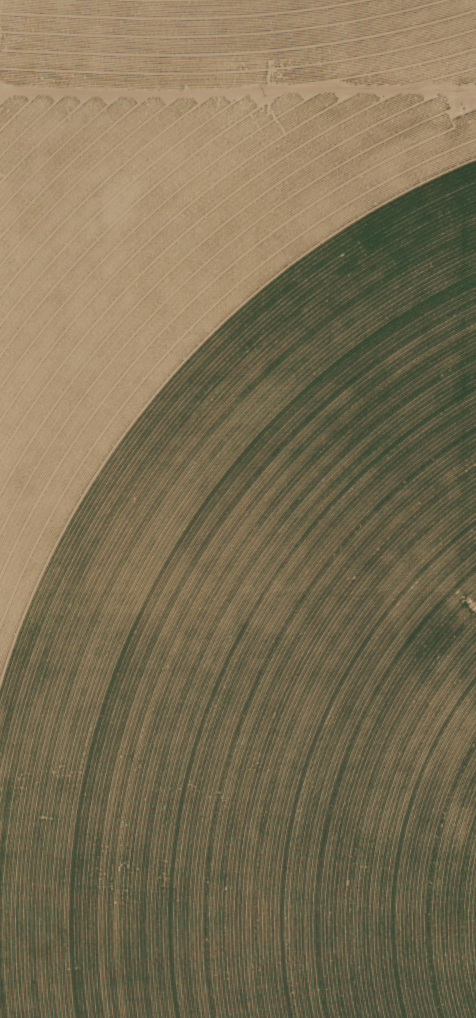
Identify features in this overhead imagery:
road: (238, 115)

